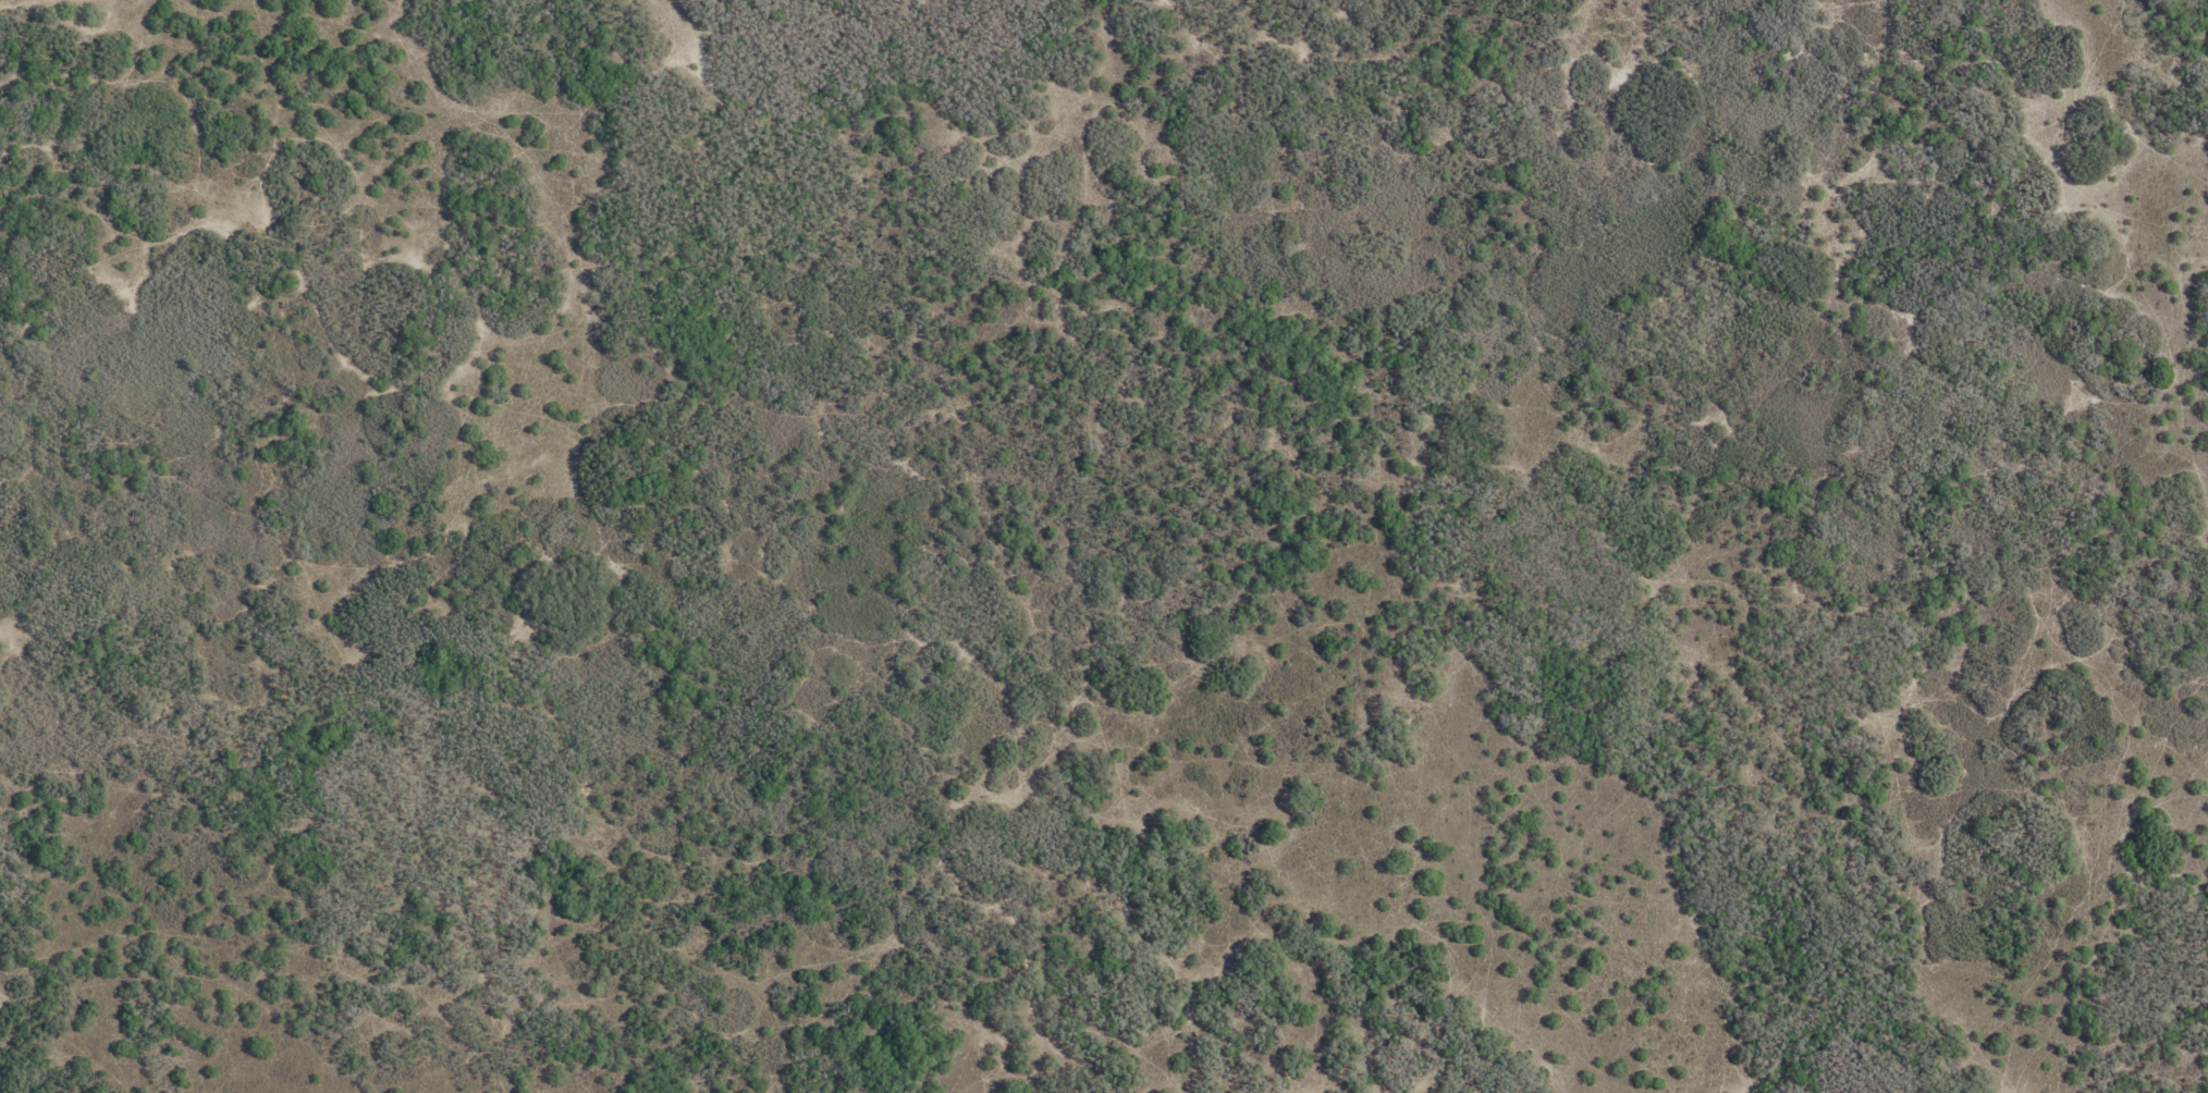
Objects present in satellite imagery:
road: (2136, 211)

